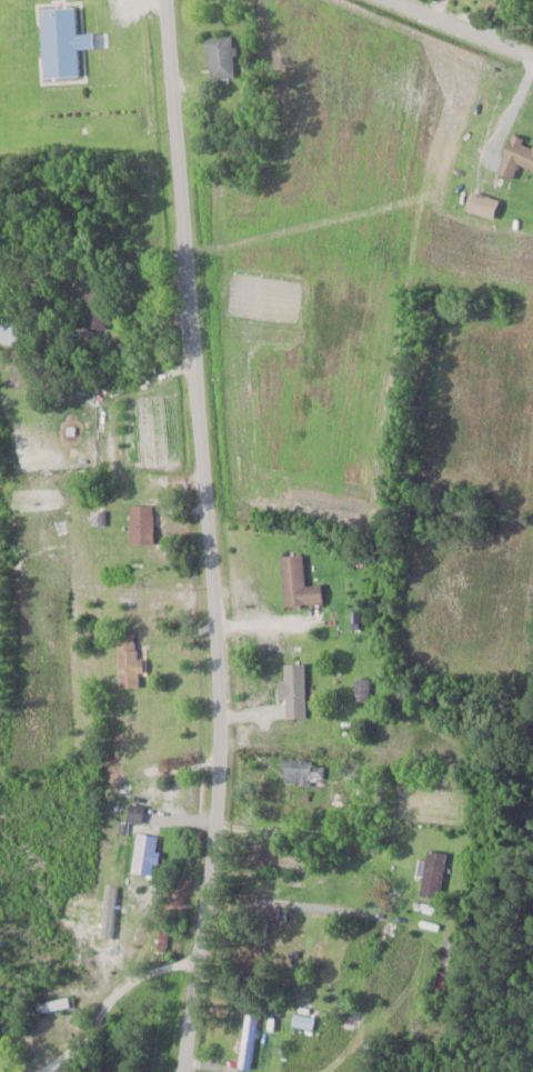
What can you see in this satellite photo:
road: (461, 29)
building: (60, 42)
building: (219, 58)
building: (515, 157)
building: (481, 203)
building: (89, 300)
building: (140, 522)
road: (209, 535)
building: (296, 581)
building: (127, 660)
building: (292, 688)
building: (360, 688)
building: (302, 770)
building: (143, 852)
building: (431, 873)
road: (404, 921)
building: (54, 1004)
road: (90, 1018)
building: (244, 1041)
road: (211, 1065)

